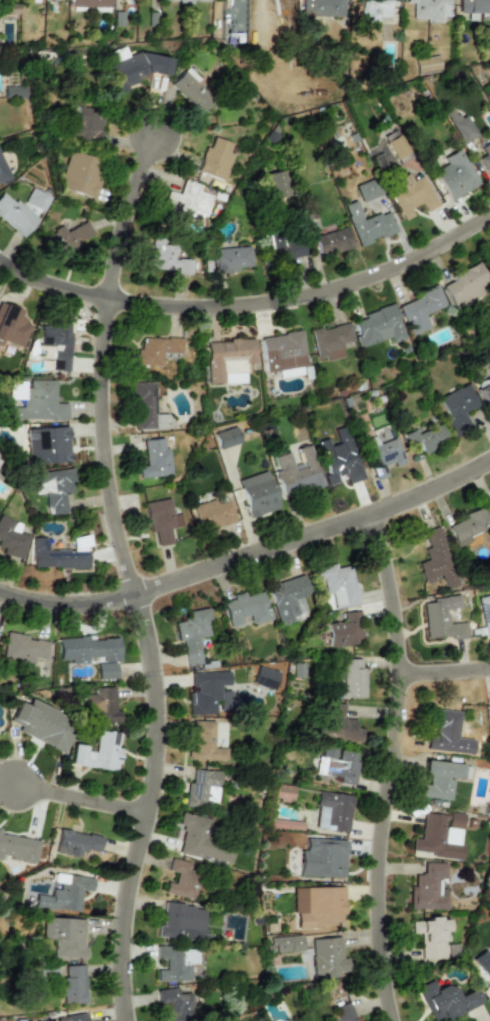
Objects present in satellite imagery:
building: (184, 0)
building: (395, 0)
building: (89, 3)
building: (321, 8)
building: (474, 8)
building: (374, 9)
building: (429, 9)
building: (234, 22)
building: (117, 53)
building: (426, 64)
building: (134, 68)
building: (190, 90)
building: (14, 91)
building: (87, 124)
building: (460, 126)
building: (396, 146)
building: (215, 158)
building: (485, 159)
building: (3, 172)
building: (80, 174)
building: (454, 174)
building: (276, 184)
building: (366, 190)
building: (410, 194)
building: (185, 201)
building: (14, 214)
building: (367, 224)
building: (67, 238)
building: (331, 241)
building: (282, 247)
building: (166, 258)
building: (229, 259)
building: (463, 285)
road: (251, 307)
building: (420, 309)
building: (11, 326)
building: (377, 326)
building: (330, 340)
building: (56, 344)
building: (156, 349)
building: (283, 351)
building: (228, 360)
building: (289, 372)
building: (484, 387)
building: (35, 401)
building: (147, 407)
building: (456, 407)
building: (226, 437)
building: (424, 439)
building: (47, 445)
building: (381, 452)
building: (153, 458)
building: (339, 458)
building: (295, 473)
building: (50, 482)
building: (257, 494)
road: (242, 503)
building: (488, 504)
building: (214, 512)
building: (161, 520)
building: (467, 526)
building: (11, 538)
building: (56, 557)
road: (249, 557)
building: (436, 558)
road: (123, 577)
building: (337, 584)
building: (287, 598)
building: (245, 608)
building: (484, 613)
building: (440, 622)
building: (344, 630)
building: (192, 635)
building: (22, 648)
building: (91, 653)
road: (439, 674)
building: (345, 676)
building: (264, 677)
building: (208, 692)
building: (489, 705)
building: (101, 706)
building: (42, 723)
building: (338, 725)
building: (446, 729)
building: (97, 752)
building: (337, 765)
road: (384, 769)
building: (439, 778)
building: (201, 788)
building: (282, 793)
road: (76, 801)
building: (332, 811)
building: (439, 836)
building: (200, 839)
building: (18, 848)
building: (322, 858)
building: (182, 878)
building: (428, 887)
building: (63, 894)
building: (317, 905)
building: (166, 922)
building: (64, 935)
building: (432, 937)
building: (284, 944)
building: (326, 957)
building: (171, 964)
building: (482, 967)
building: (72, 984)
building: (445, 1000)
building: (174, 1004)
building: (344, 1012)
building: (72, 1018)

